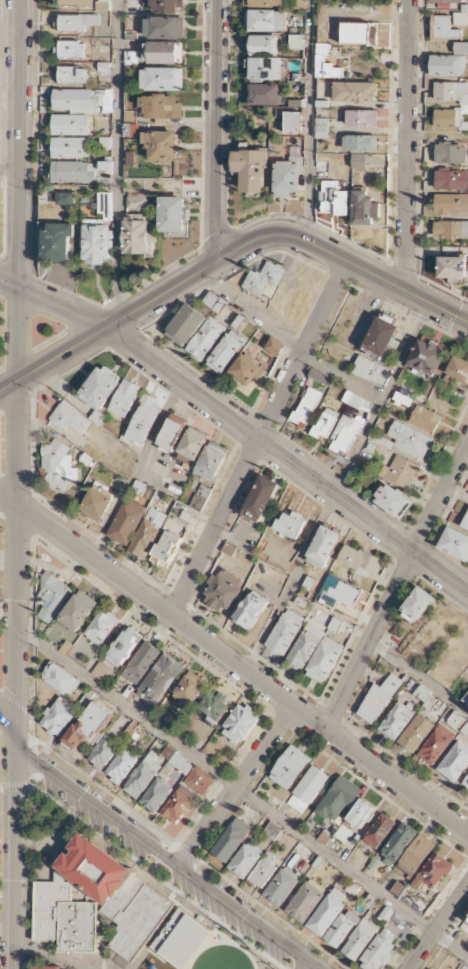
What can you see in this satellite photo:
building: (447, 1)
building: (263, 3)
building: (75, 4)
building: (298, 4)
building: (166, 6)
building: (460, 19)
building: (77, 21)
building: (265, 21)
building: (165, 27)
building: (444, 28)
building: (356, 34)
building: (296, 42)
building: (262, 46)
building: (70, 49)
building: (461, 49)
building: (164, 52)
building: (326, 66)
building: (447, 66)
building: (265, 69)
building: (73, 74)
building: (162, 79)
building: (355, 93)
building: (261, 95)
road: (9, 100)
building: (77, 101)
building: (464, 105)
building: (161, 108)
building: (361, 119)
road: (309, 121)
building: (292, 123)
building: (70, 125)
road: (217, 130)
building: (360, 144)
road: (408, 145)
building: (161, 146)
building: (70, 148)
building: (450, 154)
building: (295, 155)
road: (119, 161)
building: (358, 162)
building: (250, 170)
road: (8, 171)
building: (73, 172)
building: (286, 180)
building: (451, 181)
building: (64, 199)
building: (333, 200)
building: (451, 204)
building: (104, 206)
building: (365, 212)
building: (173, 216)
building: (451, 230)
building: (137, 236)
building: (58, 243)
building: (97, 243)
road: (228, 256)
building: (453, 268)
building: (264, 279)
building: (214, 302)
building: (186, 326)
park: (2, 330)
building: (206, 339)
building: (380, 339)
road: (287, 342)
building: (274, 347)
building: (224, 354)
building: (426, 359)
road: (18, 360)
building: (458, 369)
building: (247, 371)
building: (371, 372)
building: (321, 379)
building: (99, 393)
building: (125, 398)
building: (355, 403)
building: (307, 408)
building: (69, 419)
building: (425, 420)
building: (143, 421)
road: (240, 425)
building: (325, 425)
building: (172, 433)
building: (346, 434)
building: (377, 438)
road: (258, 439)
building: (408, 441)
building: (194, 444)
building: (210, 465)
building: (57, 467)
building: (399, 472)
road: (336, 486)
building: (200, 498)
building: (260, 498)
building: (392, 501)
building: (98, 503)
building: (126, 523)
building: (465, 523)
building: (290, 526)
building: (147, 533)
building: (455, 545)
building: (323, 548)
building: (167, 550)
building: (359, 561)
road: (396, 587)
building: (222, 591)
building: (338, 594)
building: (52, 598)
building: (417, 605)
building: (250, 610)
building: (78, 611)
building: (101, 628)
building: (284, 633)
building: (305, 647)
building: (123, 648)
building: (324, 661)
building: (141, 664)
road: (235, 664)
building: (100, 672)
road: (419, 677)
building: (61, 680)
building: (160, 680)
building: (189, 690)
building: (379, 699)
building: (465, 701)
building: (215, 707)
road: (7, 716)
building: (59, 717)
building: (456, 720)
building: (397, 721)
building: (240, 725)
building: (415, 734)
building: (94, 736)
road: (14, 739)
building: (435, 745)
building: (454, 762)
building: (122, 765)
building: (289, 768)
building: (142, 779)
building: (165, 781)
building: (199, 781)
building: (465, 783)
road: (236, 788)
building: (307, 790)
road: (242, 793)
building: (338, 802)
building: (179, 805)
building: (360, 814)
road: (466, 830)
building: (272, 832)
building: (379, 832)
building: (231, 841)
building: (398, 845)
building: (416, 856)
road: (166, 860)
building: (245, 860)
road: (12, 863)
building: (263, 871)
building: (433, 873)
building: (281, 887)
building: (397, 890)
building: (305, 902)
building: (327, 913)
building: (467, 921)
building: (341, 929)
road: (439, 929)
building: (359, 940)
building: (378, 952)
road: (50, 954)
road: (308, 966)
building: (47, 967)

